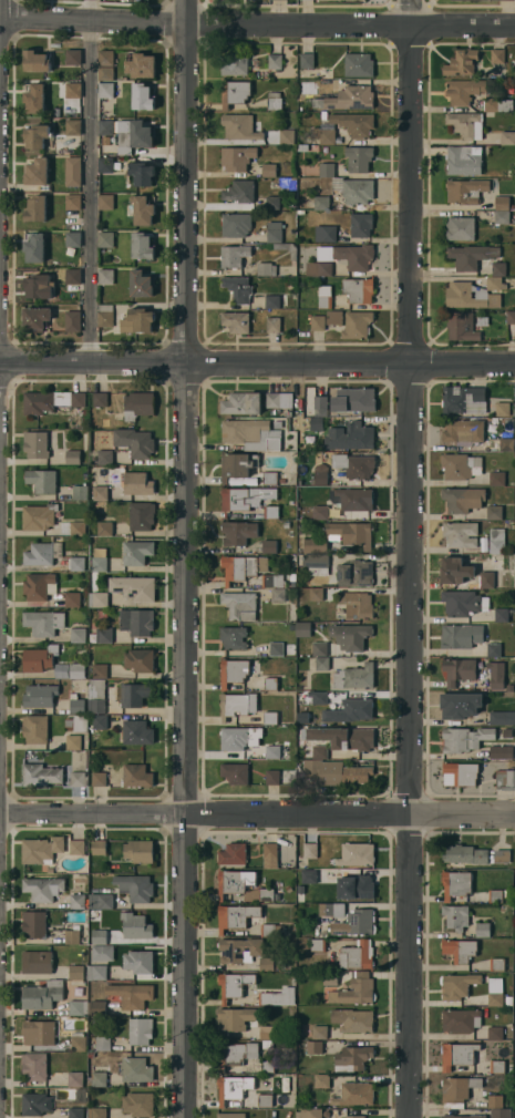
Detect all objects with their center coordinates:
road: (257, 17)
building: (71, 55)
building: (497, 55)
building: (104, 57)
building: (34, 60)
building: (306, 60)
building: (275, 61)
building: (234, 62)
building: (462, 62)
building: (140, 64)
building: (358, 64)
building: (104, 72)
building: (325, 85)
building: (71, 89)
building: (104, 89)
building: (233, 91)
building: (463, 91)
building: (141, 95)
building: (33, 96)
building: (348, 99)
building: (274, 101)
building: (497, 104)
building: (322, 114)
building: (353, 123)
building: (465, 124)
building: (71, 125)
building: (238, 125)
building: (35, 134)
building: (122, 134)
building: (322, 135)
building: (286, 136)
building: (507, 137)
building: (65, 145)
building: (307, 147)
building: (236, 155)
building: (359, 158)
building: (464, 161)
building: (104, 163)
building: (35, 170)
building: (71, 170)
building: (269, 170)
building: (326, 170)
building: (140, 172)
building: (511, 173)
road: (87, 178)
building: (288, 183)
building: (238, 189)
building: (354, 189)
building: (466, 191)
building: (104, 199)
building: (71, 201)
building: (272, 202)
building: (321, 203)
building: (503, 203)
building: (34, 207)
building: (142, 209)
building: (501, 216)
building: (234, 223)
building: (360, 224)
building: (460, 228)
building: (274, 232)
building: (323, 233)
building: (71, 237)
building: (104, 237)
building: (141, 245)
building: (33, 246)
building: (286, 248)
building: (231, 254)
building: (347, 255)
building: (471, 256)
building: (317, 268)
building: (266, 269)
building: (498, 269)
building: (71, 275)
building: (104, 275)
building: (140, 281)
building: (34, 284)
building: (236, 287)
building: (358, 290)
building: (460, 293)
building: (323, 296)
building: (275, 301)
building: (103, 314)
building: (34, 316)
building: (333, 317)
building: (511, 317)
building: (71, 319)
building: (136, 319)
building: (234, 319)
building: (482, 320)
building: (317, 321)
building: (357, 324)
building: (274, 325)
building: (462, 327)
road: (257, 357)
building: (76, 397)
building: (358, 397)
building: (99, 398)
building: (278, 399)
building: (42, 400)
building: (463, 400)
building: (240, 401)
building: (320, 401)
building: (136, 403)
building: (503, 409)
building: (509, 425)
building: (463, 429)
building: (312, 431)
building: (249, 432)
building: (350, 437)
building: (134, 440)
building: (34, 442)
building: (506, 444)
building: (71, 455)
building: (103, 455)
building: (236, 463)
building: (359, 466)
building: (460, 466)
building: (319, 474)
building: (270, 478)
building: (496, 478)
building: (40, 479)
building: (136, 481)
building: (78, 490)
building: (99, 491)
building: (243, 495)
building: (354, 498)
building: (463, 499)
building: (271, 511)
building: (319, 512)
building: (494, 513)
building: (140, 514)
building: (37, 515)
building: (75, 526)
building: (105, 529)
building: (237, 531)
building: (460, 534)
building: (354, 536)
building: (496, 541)
building: (269, 546)
building: (135, 550)
building: (40, 552)
building: (97, 558)
road: (182, 558)
road: (406, 558)
building: (75, 562)
building: (316, 563)
building: (262, 564)
building: (237, 566)
building: (454, 571)
building: (354, 573)
building: (490, 578)
building: (272, 581)
building: (38, 584)
building: (134, 586)
building: (284, 594)
building: (316, 594)
building: (70, 597)
building: (96, 597)
building: (238, 603)
building: (463, 603)
building: (357, 604)
building: (502, 614)
building: (135, 619)
building: (42, 620)
building: (301, 627)
building: (76, 633)
building: (99, 633)
building: (233, 635)
building: (350, 636)
building: (461, 636)
building: (319, 648)
building: (276, 649)
building: (38, 656)
building: (137, 658)
building: (321, 663)
building: (97, 668)
building: (75, 669)
building: (233, 670)
building: (457, 670)
building: (495, 675)
building: (353, 677)
building: (270, 684)
building: (509, 688)
building: (134, 693)
building: (38, 694)
building: (95, 695)
building: (317, 696)
building: (75, 701)
building: (236, 702)
building: (460, 704)
building: (349, 710)
building: (300, 716)
building: (270, 718)
building: (502, 718)
building: (97, 719)
building: (75, 721)
building: (33, 727)
building: (135, 730)
building: (506, 732)
building: (238, 736)
building: (341, 737)
building: (464, 738)
building: (72, 740)
building: (319, 751)
building: (272, 752)
building: (495, 752)
building: (285, 753)
building: (234, 771)
building: (334, 771)
building: (39, 772)
building: (135, 773)
building: (460, 775)
building: (76, 777)
building: (97, 777)
building: (272, 777)
building: (505, 779)
road: (257, 812)
building: (75, 844)
building: (97, 845)
building: (40, 848)
building: (137, 849)
building: (270, 849)
building: (231, 852)
building: (306, 852)
building: (354, 852)
building: (464, 854)
building: (502, 857)
building: (308, 874)
building: (243, 884)
building: (456, 884)
building: (134, 885)
building: (354, 885)
building: (41, 886)
building: (299, 886)
building: (507, 893)
building: (495, 896)
building: (75, 899)
building: (100, 900)
building: (331, 909)
building: (93, 914)
building: (235, 915)
building: (456, 916)
building: (32, 922)
building: (356, 923)
building: (134, 924)
building: (483, 930)
building: (72, 934)
building: (99, 935)
building: (246, 944)
building: (317, 945)
building: (460, 950)
building: (101, 951)
building: (357, 955)
building: (137, 960)
building: (35, 961)
building: (265, 962)
building: (496, 964)
building: (74, 970)
building: (95, 971)
building: (329, 976)
building: (233, 983)
building: (457, 985)
building: (354, 989)
building: (495, 992)
building: (41, 993)
building: (130, 993)
building: (278, 997)
building: (508, 1001)
building: (76, 1005)
building: (95, 1005)
building: (231, 1017)
building: (352, 1020)
building: (460, 1020)
building: (138, 1028)
building: (37, 1030)
building: (266, 1030)
building: (319, 1032)
building: (495, 1034)
building: (76, 1039)
building: (101, 1042)
building: (267, 1045)
building: (315, 1047)
building: (234, 1052)
building: (456, 1055)
building: (351, 1056)
building: (32, 1064)
building: (268, 1067)
building: (496, 1067)
building: (135, 1068)
building: (73, 1077)
building: (97, 1077)
building: (320, 1079)
building: (231, 1085)
building: (457, 1089)
building: (353, 1093)
building: (34, 1101)
building: (265, 1101)
building: (495, 1101)
building: (136, 1102)
building: (222, 1107)
building: (74, 1111)
building: (95, 1111)
building: (308, 1112)
building: (501, 1114)
building: (229, 1115)
building: (353, 1116)
building: (465, 1116)

